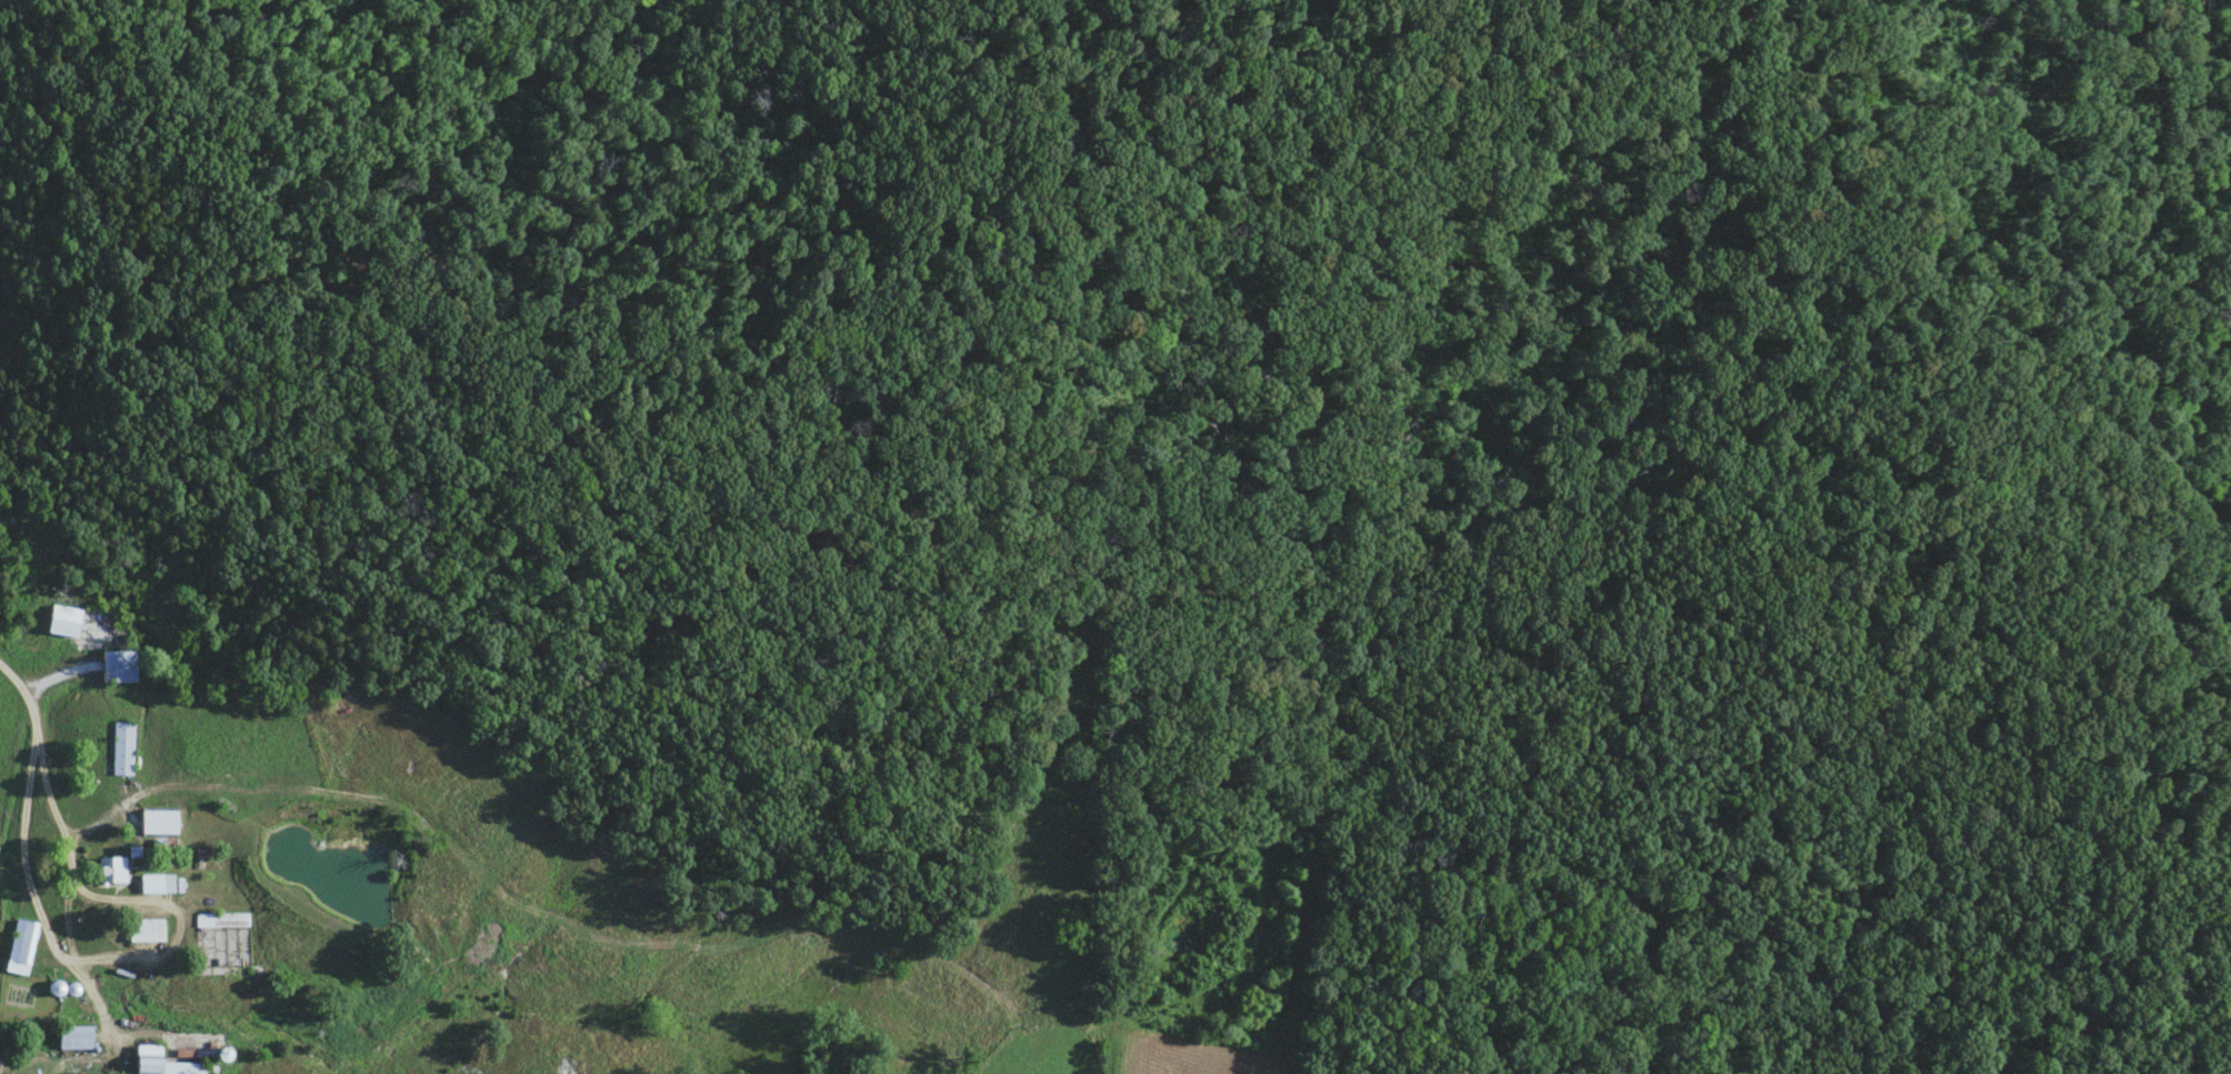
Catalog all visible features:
building: (60, 620)
building: (116, 665)
building: (120, 747)
road: (46, 763)
building: (157, 823)
building: (109, 869)
building: (156, 883)
building: (221, 920)
building: (143, 930)
building: (19, 946)
building: (72, 1036)
building: (159, 1063)

